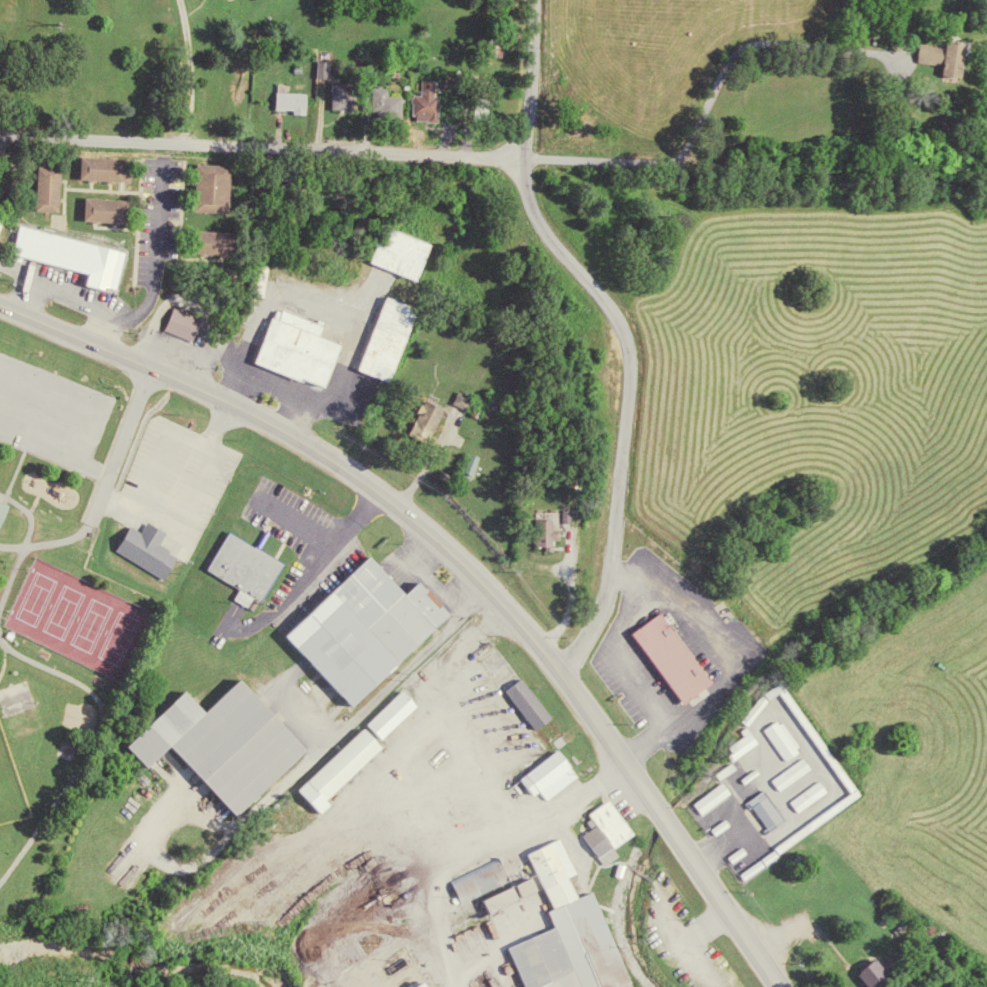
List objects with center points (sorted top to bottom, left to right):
building: (955, 57)
building: (329, 69)
road: (522, 77)
building: (349, 96)
road: (708, 97)
building: (298, 101)
building: (434, 101)
road: (259, 144)
building: (98, 165)
building: (43, 183)
building: (208, 183)
building: (59, 189)
building: (225, 189)
building: (103, 207)
building: (208, 239)
building: (397, 250)
building: (66, 253)
building: (254, 277)
building: (180, 321)
building: (384, 334)
building: (293, 342)
building: (468, 399)
parking lot: (50, 412)
road: (88, 422)
road: (119, 445)
road: (83, 459)
road: (329, 461)
building: (479, 463)
road: (15, 466)
road: (99, 467)
building: (1, 503)
road: (26, 512)
building: (541, 530)
road: (47, 541)
building: (143, 546)
building: (241, 563)
road: (10, 569)
park: (75, 619)
building: (361, 626)
building: (668, 654)
building: (525, 702)
building: (757, 705)
building: (388, 711)
building: (218, 739)
road: (88, 742)
building: (776, 742)
building: (736, 749)
building: (333, 767)
building: (545, 773)
building: (717, 775)
building: (786, 776)
park: (10, 790)
building: (804, 799)
building: (707, 801)
building: (761, 812)
building: (601, 824)
building: (780, 845)
road: (682, 851)
building: (485, 885)
building: (563, 933)
building: (873, 968)
building: (416, 984)

